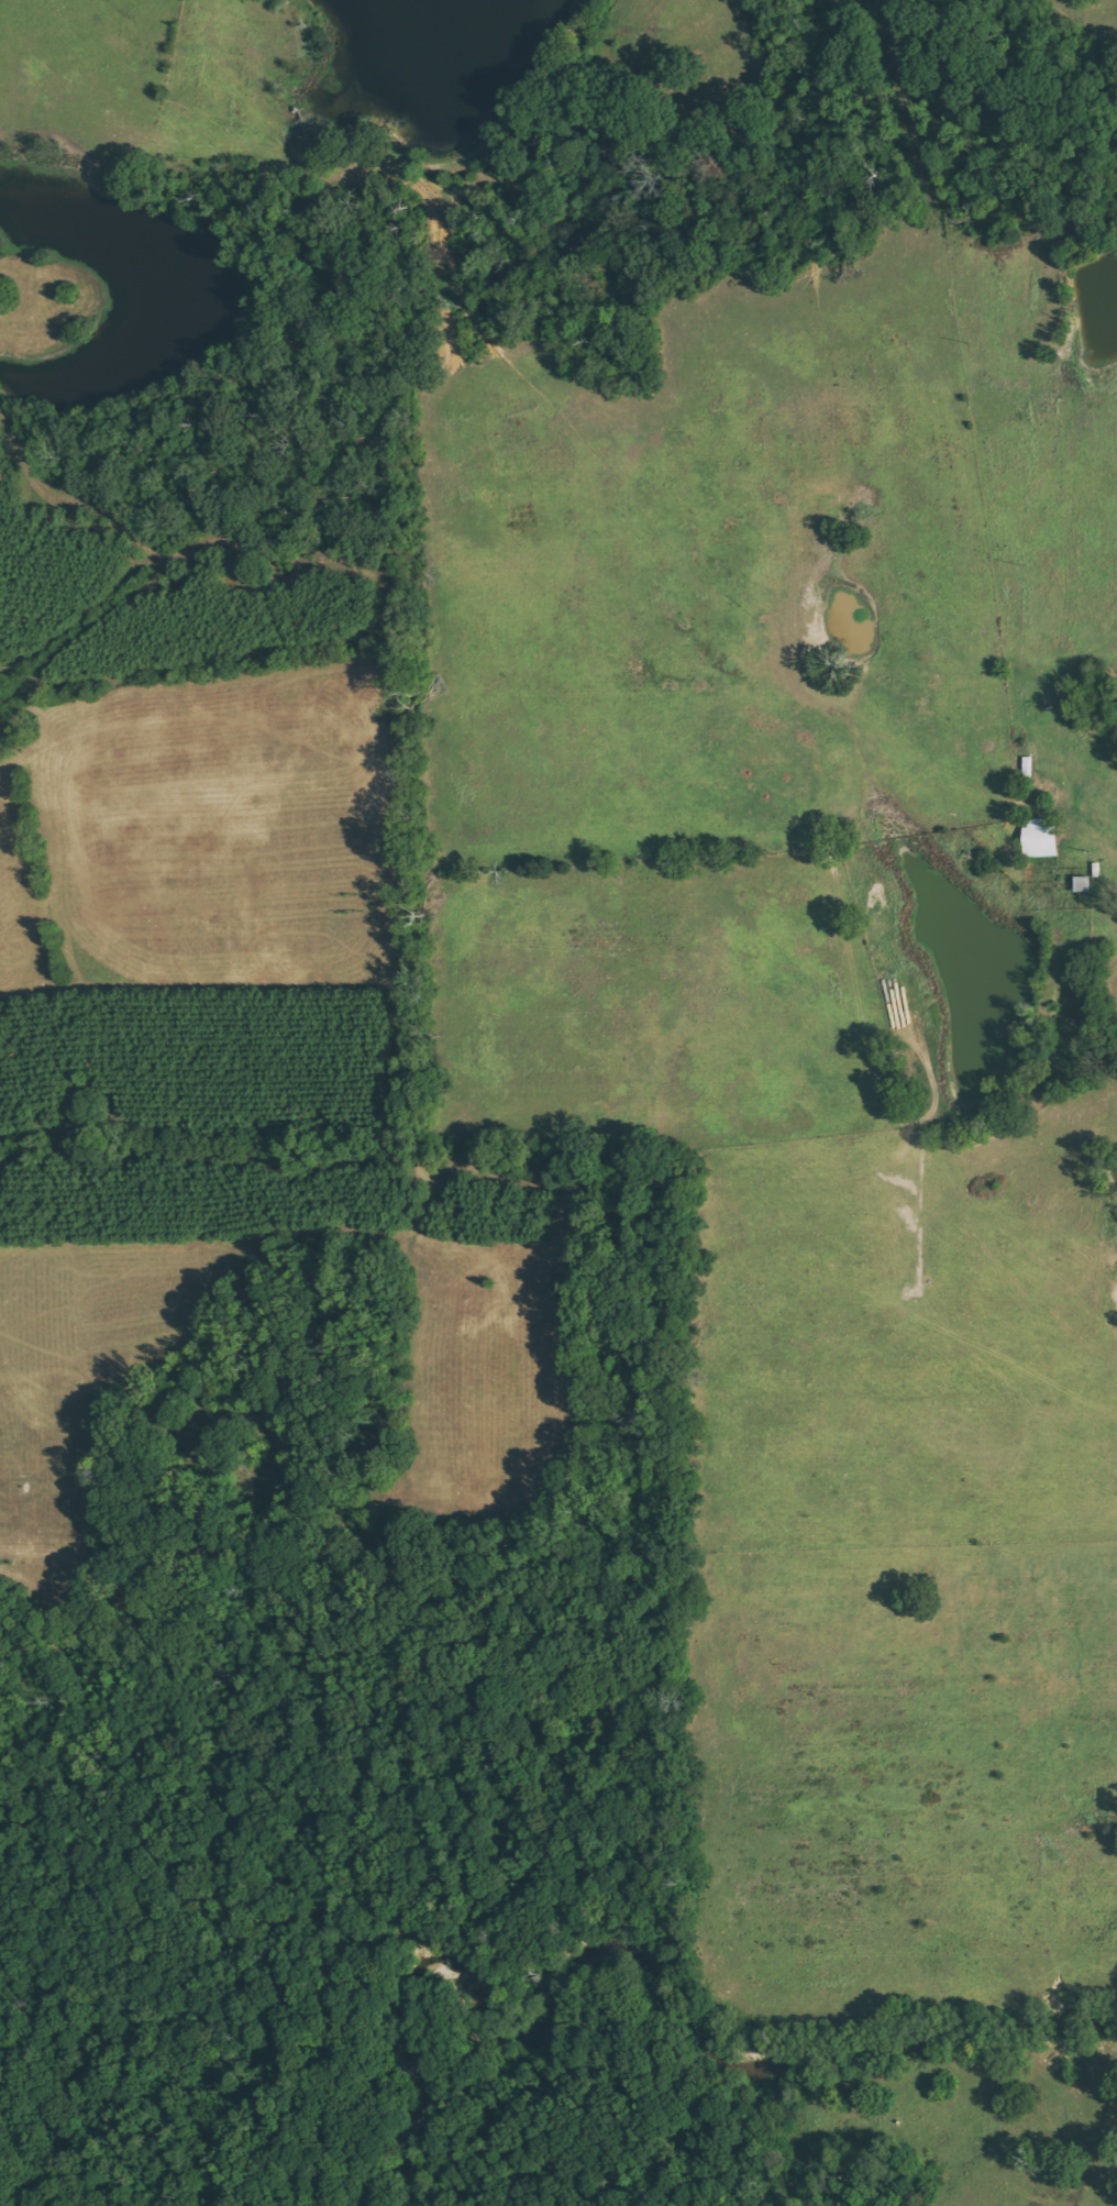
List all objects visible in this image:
building: (1038, 838)

